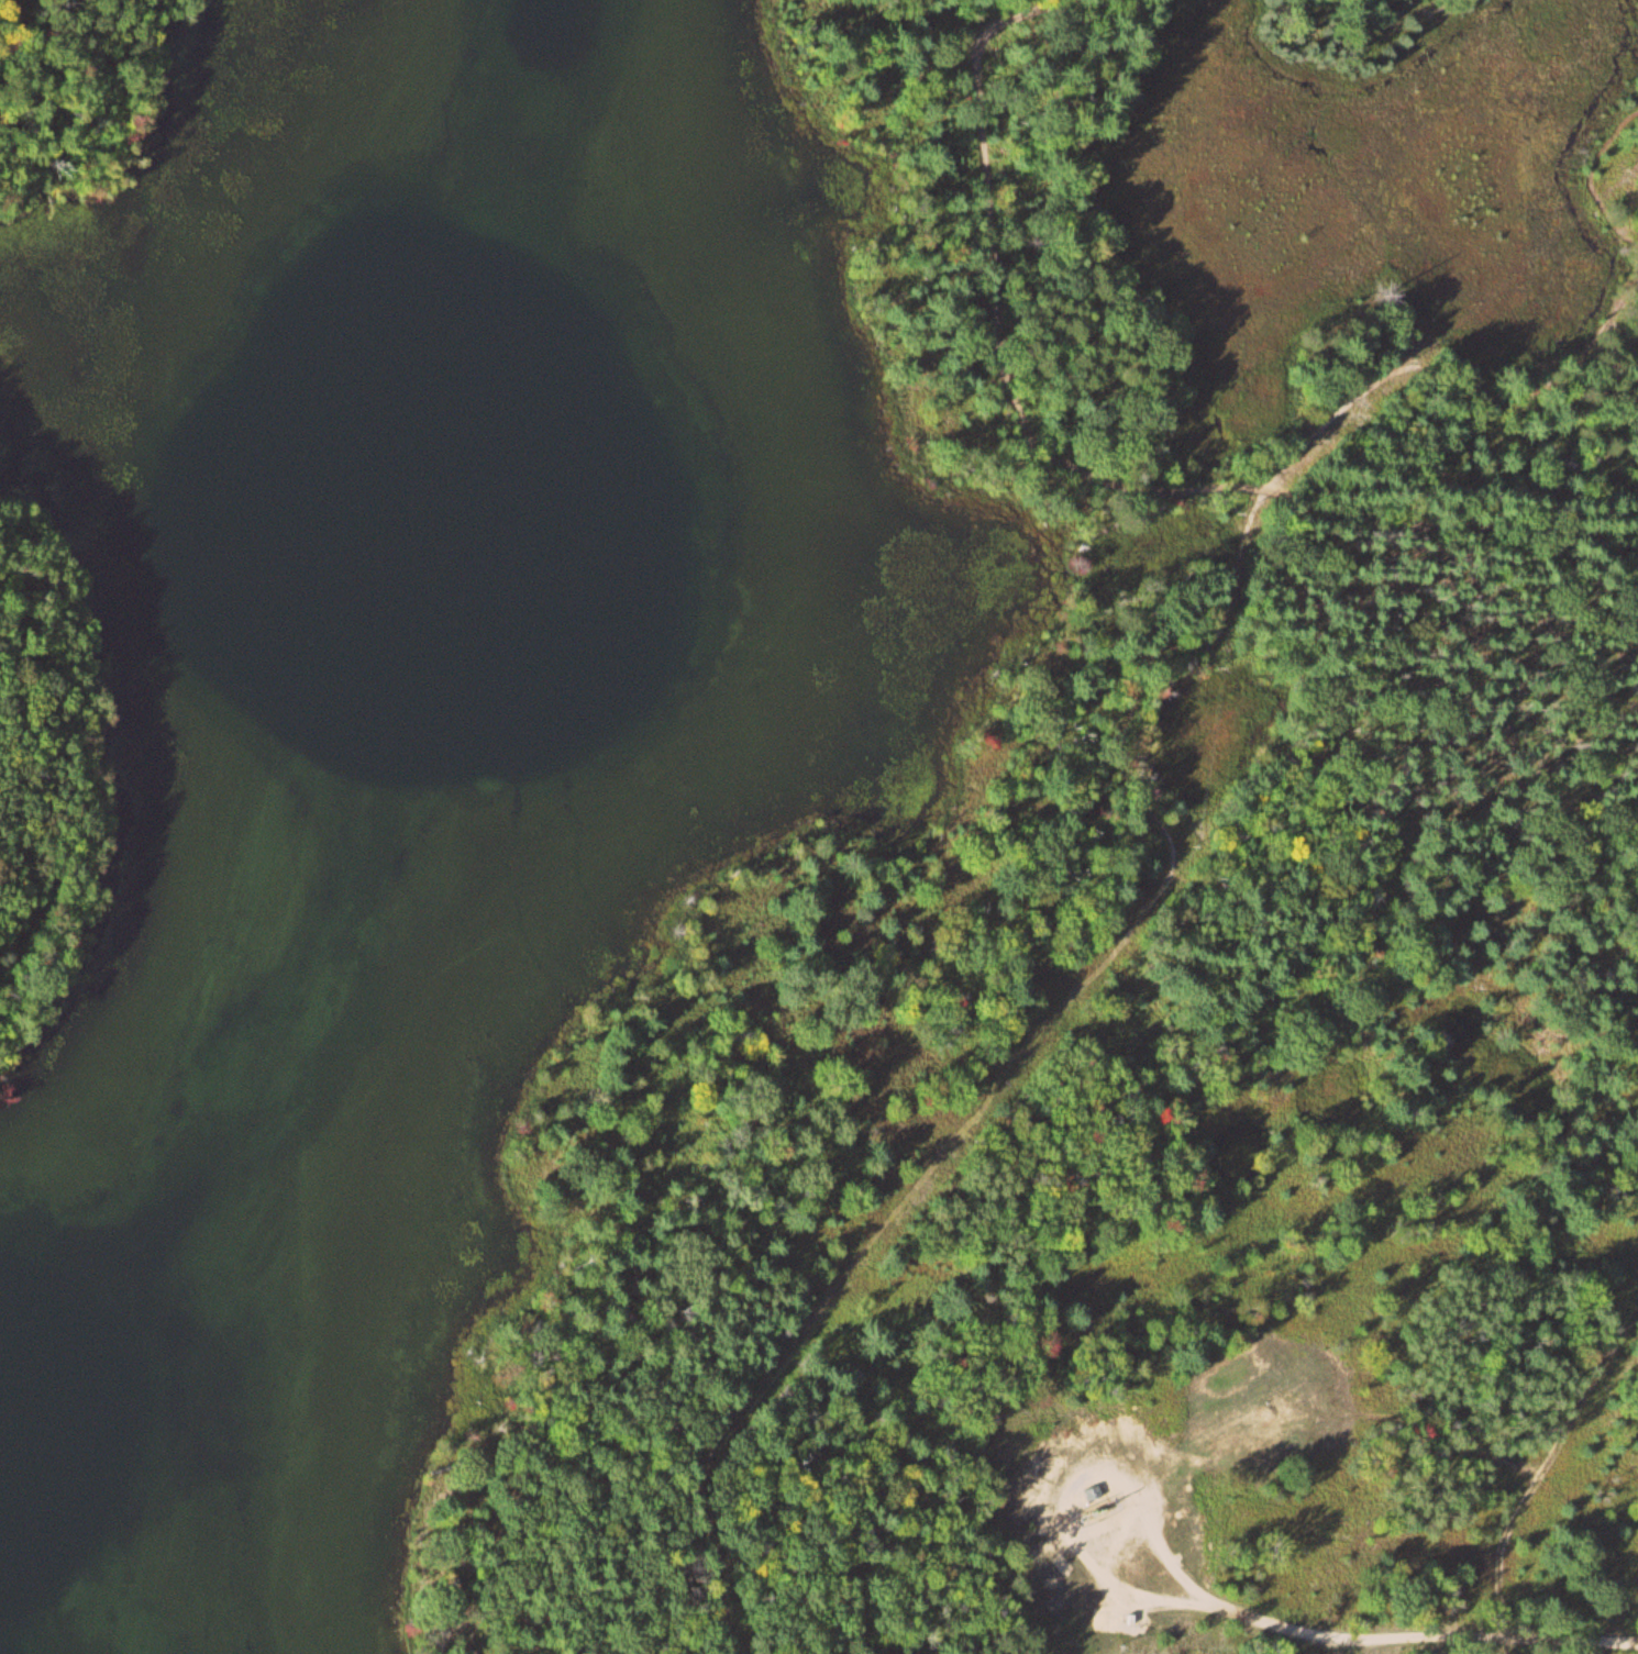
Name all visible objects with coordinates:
road: (1122, 437)
road: (1528, 1477)
petroleum well: (1094, 1507)
road: (1379, 1629)

